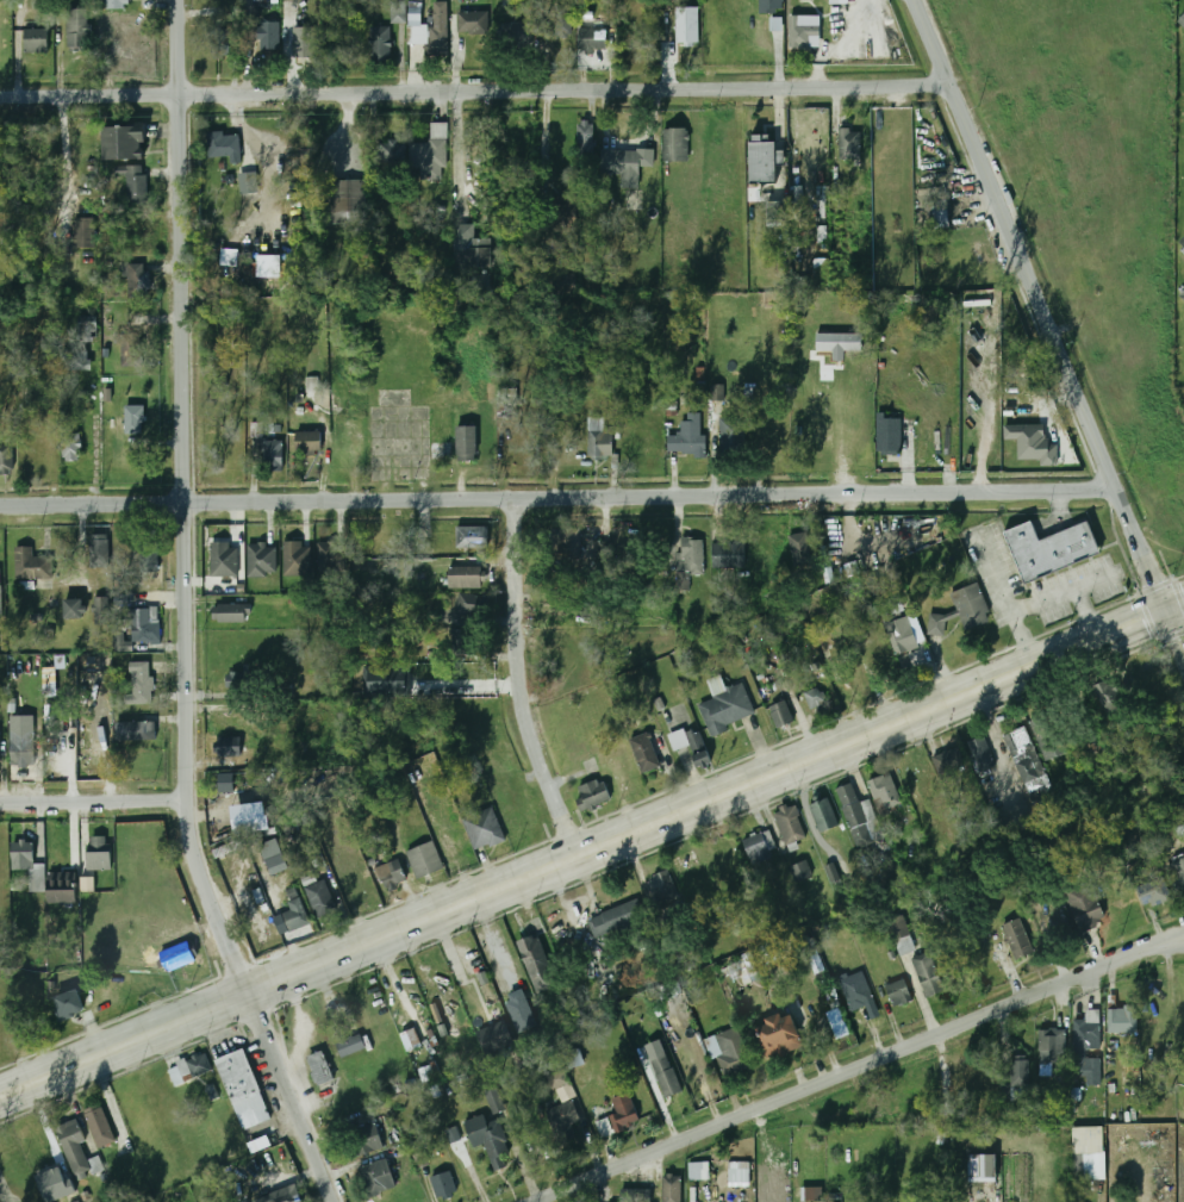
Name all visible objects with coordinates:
building: (839, 1)
building: (118, 2)
building: (769, 6)
building: (287, 8)
building: (398, 11)
building: (1182, 20)
building: (472, 23)
building: (556, 24)
building: (777, 24)
building: (1182, 24)
building: (687, 25)
building: (75, 27)
building: (802, 33)
building: (268, 36)
building: (513, 36)
building: (429, 38)
building: (592, 39)
building: (36, 41)
building: (219, 42)
building: (304, 43)
building: (379, 43)
road: (839, 44)
road: (473, 92)
building: (585, 141)
building: (123, 144)
building: (675, 144)
building: (224, 147)
road: (457, 150)
building: (391, 152)
building: (430, 154)
building: (854, 156)
road: (62, 160)
building: (762, 162)
building: (625, 163)
building: (133, 183)
building: (347, 200)
building: (822, 206)
building: (777, 208)
building: (568, 211)
building: (939, 214)
building: (83, 233)
building: (823, 233)
building: (472, 248)
building: (229, 256)
building: (269, 266)
building: (822, 270)
building: (135, 280)
building: (1183, 294)
road: (1047, 332)
building: (840, 342)
building: (131, 351)
building: (75, 361)
building: (312, 384)
building: (716, 392)
building: (133, 419)
building: (256, 429)
building: (814, 434)
building: (887, 434)
building: (687, 436)
building: (731, 436)
building: (599, 440)
building: (309, 442)
building: (1032, 442)
building: (467, 443)
building: (70, 447)
building: (273, 456)
building: (6, 460)
building: (31, 462)
road: (555, 500)
road: (1057, 507)
building: (472, 537)
building: (873, 540)
building: (566, 543)
building: (1054, 549)
building: (98, 550)
building: (799, 550)
building: (728, 555)
building: (148, 556)
building: (295, 558)
building: (331, 559)
building: (223, 560)
building: (261, 561)
building: (688, 561)
building: (31, 566)
building: (833, 569)
building: (467, 577)
building: (0, 592)
road: (1045, 600)
building: (471, 605)
building: (74, 609)
road: (1172, 609)
building: (891, 610)
building: (967, 610)
building: (99, 611)
road: (186, 614)
building: (231, 614)
traffic signals: (1161, 614)
building: (138, 629)
road: (1111, 634)
building: (904, 635)
building: (465, 642)
building: (872, 647)
building: (49, 673)
building: (385, 681)
building: (139, 684)
road: (521, 685)
road: (467, 686)
building: (815, 698)
building: (1107, 698)
building: (724, 709)
building: (778, 716)
building: (229, 721)
building: (133, 730)
building: (0, 731)
road: (997, 731)
building: (1049, 735)
building: (1092, 741)
building: (226, 746)
building: (698, 748)
building: (644, 752)
building: (980, 754)
building: (21, 756)
building: (951, 762)
building: (1030, 772)
building: (226, 781)
building: (592, 793)
building: (884, 793)
road: (93, 802)
building: (823, 815)
building: (855, 815)
building: (251, 818)
building: (789, 826)
building: (484, 829)
building: (756, 848)
building: (99, 853)
building: (273, 855)
building: (423, 860)
building: (26, 864)
building: (799, 870)
building: (1179, 871)
building: (833, 872)
building: (388, 874)
road: (531, 878)
building: (662, 888)
building: (1152, 891)
building: (62, 895)
building: (319, 897)
building: (1086, 908)
building: (292, 916)
building: (613, 920)
building: (898, 927)
building: (1017, 940)
road: (1169, 943)
building: (905, 945)
building: (180, 954)
building: (535, 964)
building: (744, 970)
road: (460, 971)
building: (928, 973)
building: (438, 978)
building: (856, 992)
building: (898, 992)
building: (69, 1004)
building: (522, 1011)
building: (1122, 1020)
building: (837, 1023)
building: (496, 1038)
building: (411, 1040)
building: (780, 1042)
building: (350, 1046)
building: (1049, 1047)
building: (729, 1052)
building: (1088, 1053)
building: (574, 1058)
road: (861, 1065)
building: (319, 1067)
building: (189, 1069)
building: (426, 1073)
building: (1017, 1075)
building: (968, 1078)
building: (556, 1079)
building: (669, 1083)
building: (245, 1096)
building: (496, 1101)
building: (618, 1116)
building: (562, 1121)
building: (99, 1127)
building: (454, 1134)
building: (363, 1140)
building: (488, 1140)
building: (75, 1150)
building: (1089, 1153)
building: (983, 1167)
building: (698, 1171)
building: (739, 1171)
building: (378, 1178)
building: (55, 1184)
building: (443, 1185)
building: (671, 1188)
building: (811, 1194)
building: (634, 1195)
building: (287, 1197)

